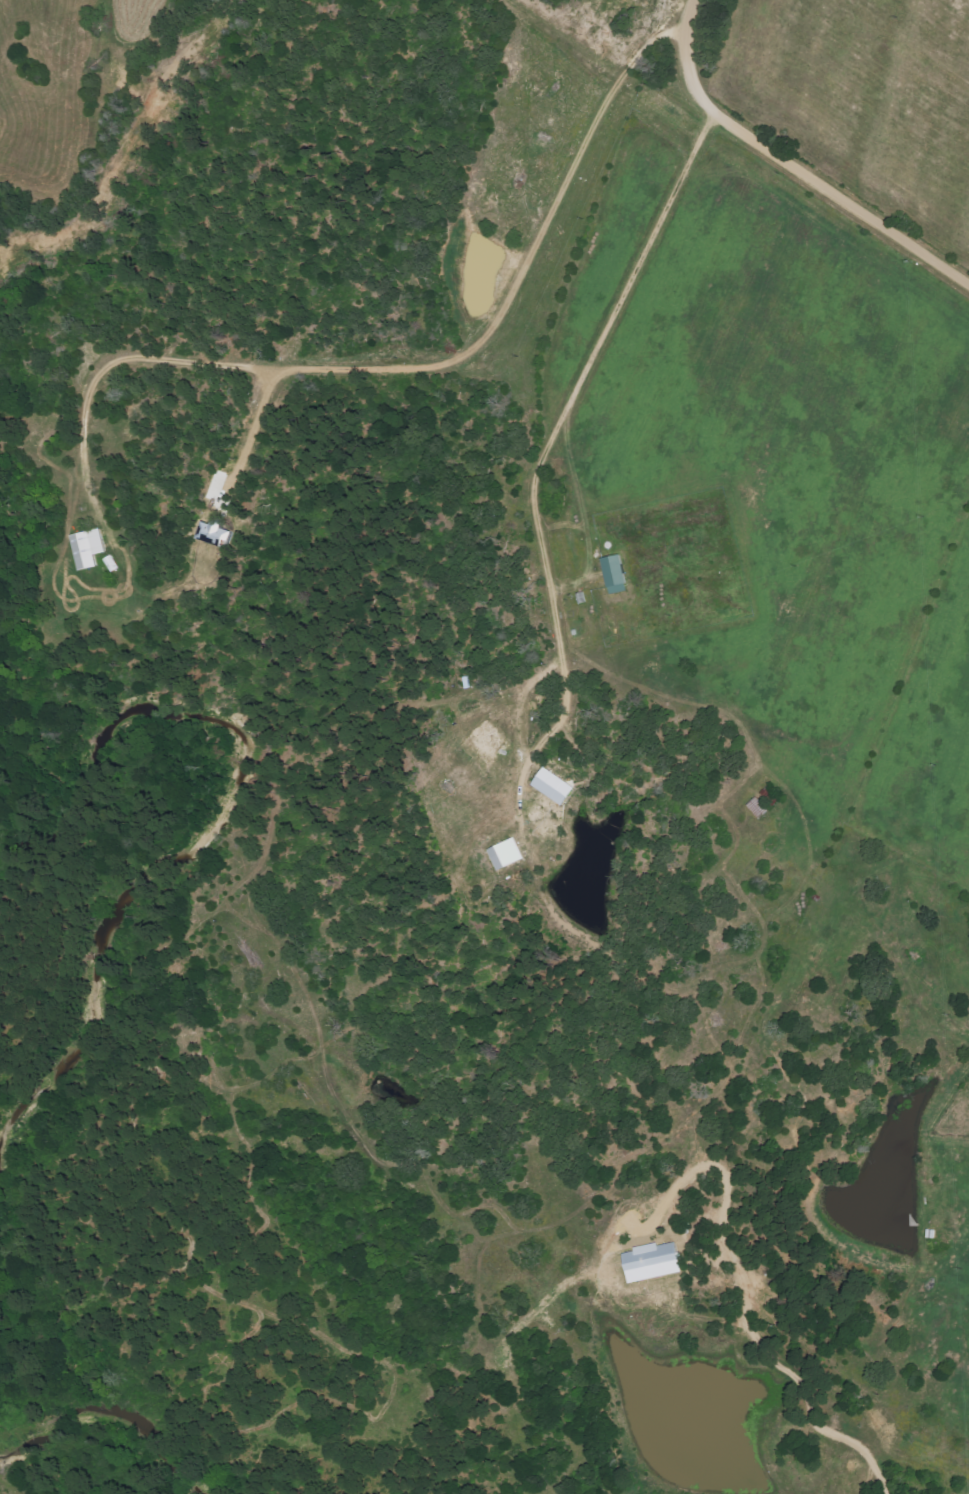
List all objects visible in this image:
road: (793, 159)
building: (222, 534)
building: (91, 549)
building: (619, 575)
building: (557, 787)
building: (510, 855)
building: (657, 1263)

